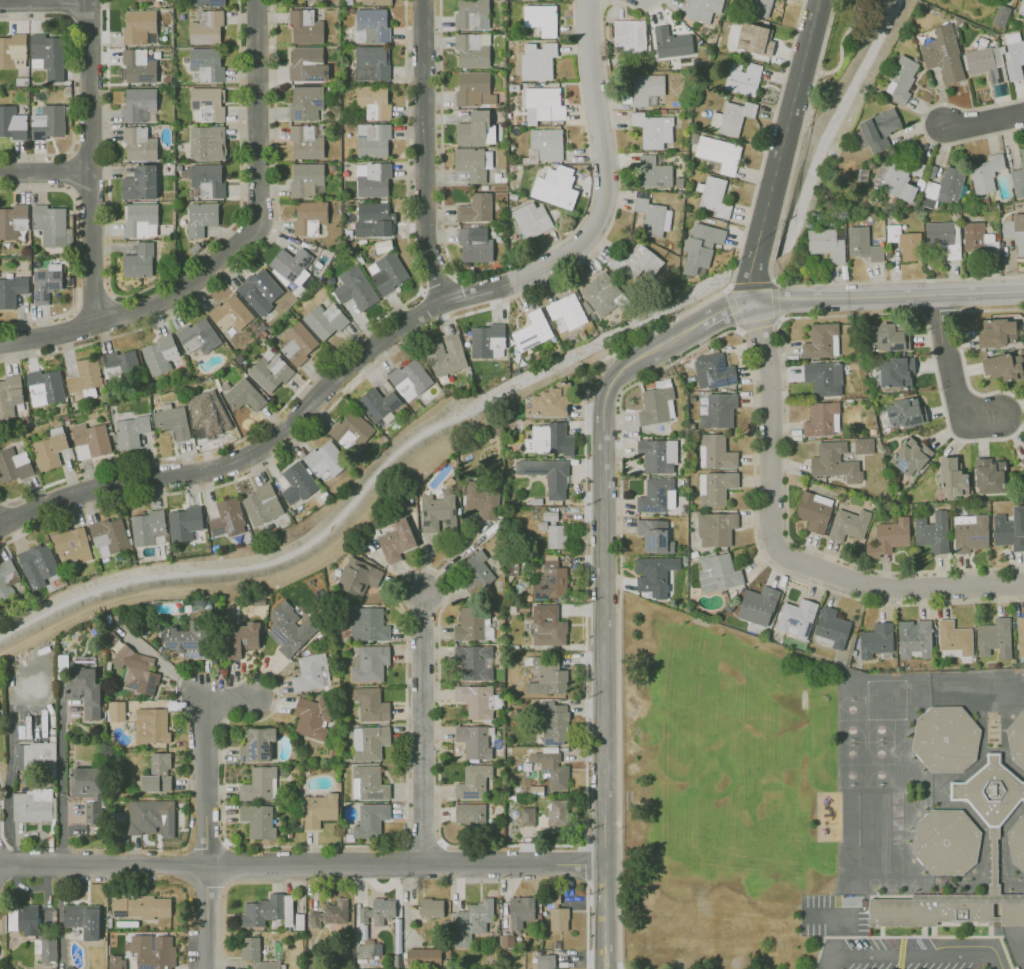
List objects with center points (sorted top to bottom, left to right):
road: (44, 0)
building: (148, 0)
building: (309, 0)
building: (347, 2)
building: (377, 2)
building: (210, 3)
building: (1021, 6)
building: (759, 7)
building: (699, 8)
building: (349, 11)
building: (472, 14)
building: (1000, 15)
building: (541, 20)
building: (372, 26)
building: (306, 27)
building: (140, 28)
building: (207, 28)
building: (349, 35)
building: (629, 35)
road: (825, 36)
building: (754, 38)
building: (670, 42)
road: (842, 43)
park: (842, 44)
building: (473, 50)
building: (13, 51)
building: (943, 54)
building: (1013, 55)
building: (48, 56)
building: (538, 62)
building: (985, 63)
building: (372, 64)
building: (207, 65)
building: (308, 65)
building: (139, 67)
building: (900, 78)
building: (743, 79)
building: (22, 82)
road: (73, 86)
building: (647, 88)
building: (474, 90)
building: (180, 97)
building: (374, 102)
building: (208, 103)
building: (306, 103)
building: (544, 104)
building: (140, 106)
building: (511, 117)
building: (731, 117)
road: (982, 122)
building: (48, 123)
road: (922, 123)
building: (13, 124)
road: (788, 125)
building: (116, 128)
building: (652, 129)
building: (879, 129)
road: (768, 130)
building: (475, 131)
building: (373, 141)
building: (208, 143)
building: (306, 143)
building: (139, 145)
building: (546, 145)
road: (424, 152)
building: (719, 153)
road: (796, 156)
road: (90, 161)
building: (473, 163)
building: (345, 166)
building: (653, 171)
road: (45, 172)
building: (985, 173)
building: (1018, 174)
building: (373, 179)
building: (500, 180)
building: (207, 181)
building: (307, 181)
building: (141, 184)
building: (550, 186)
building: (484, 188)
building: (513, 197)
building: (713, 197)
building: (476, 209)
building: (650, 216)
building: (310, 218)
building: (201, 219)
building: (373, 220)
building: (532, 220)
building: (141, 221)
building: (14, 223)
building: (52, 227)
building: (1015, 231)
building: (942, 236)
building: (363, 242)
building: (862, 243)
building: (475, 244)
building: (825, 244)
building: (383, 246)
building: (910, 246)
building: (701, 247)
building: (194, 248)
road: (234, 248)
building: (517, 248)
road: (773, 250)
road: (75, 253)
building: (645, 259)
building: (69, 260)
road: (248, 260)
building: (359, 260)
building: (139, 261)
road: (752, 261)
building: (292, 265)
road: (497, 271)
road: (732, 271)
building: (387, 274)
road: (887, 281)
building: (47, 283)
road: (439, 283)
building: (287, 284)
road: (751, 284)
road: (749, 286)
road: (148, 287)
building: (355, 289)
building: (12, 291)
building: (259, 291)
building: (600, 293)
road: (887, 296)
road: (430, 305)
road: (95, 306)
road: (723, 310)
road: (940, 311)
road: (118, 313)
building: (566, 313)
road: (832, 315)
building: (231, 317)
building: (325, 321)
road: (755, 325)
road: (431, 327)
road: (397, 328)
building: (997, 329)
building: (532, 331)
building: (470, 332)
building: (258, 333)
building: (264, 334)
building: (199, 337)
building: (888, 337)
building: (489, 341)
building: (821, 341)
building: (298, 344)
road: (342, 349)
building: (160, 355)
building: (453, 356)
building: (1003, 365)
building: (122, 368)
building: (713, 371)
building: (895, 371)
building: (270, 373)
road: (647, 376)
building: (183, 378)
road: (616, 378)
building: (824, 378)
building: (411, 379)
road: (951, 379)
building: (85, 380)
building: (105, 383)
building: (151, 385)
building: (45, 388)
building: (242, 395)
building: (10, 396)
building: (551, 401)
building: (656, 405)
building: (381, 406)
building: (98, 411)
building: (719, 411)
building: (904, 413)
building: (204, 416)
building: (822, 419)
building: (66, 421)
building: (173, 422)
building: (131, 433)
building: (353, 433)
building: (549, 439)
building: (90, 440)
building: (863, 445)
building: (51, 450)
building: (715, 452)
building: (658, 455)
building: (910, 456)
building: (327, 461)
building: (835, 462)
building: (1021, 462)
building: (14, 466)
building: (359, 468)
building: (546, 475)
building: (989, 476)
building: (952, 477)
building: (300, 484)
building: (715, 487)
building: (481, 495)
building: (657, 495)
building: (327, 497)
road: (2, 502)
building: (264, 505)
building: (814, 511)
building: (294, 512)
building: (438, 513)
road: (11, 519)
building: (229, 519)
building: (187, 524)
building: (848, 524)
building: (1010, 528)
building: (150, 529)
building: (716, 529)
building: (554, 530)
building: (256, 531)
building: (932, 532)
building: (970, 532)
building: (653, 535)
building: (110, 536)
building: (890, 536)
building: (396, 541)
building: (75, 544)
road: (779, 549)
road: (454, 559)
building: (40, 562)
building: (475, 572)
building: (718, 572)
building: (654, 574)
building: (358, 576)
building: (9, 579)
building: (551, 580)
building: (37, 592)
building: (758, 605)
building: (796, 618)
building: (368, 624)
building: (472, 624)
building: (548, 626)
building: (832, 627)
building: (290, 628)
building: (1020, 635)
building: (954, 637)
building: (995, 637)
building: (240, 638)
building: (186, 639)
building: (876, 639)
building: (914, 639)
building: (474, 661)
building: (368, 662)
building: (137, 670)
building: (311, 672)
building: (547, 676)
building: (84, 689)
building: (477, 700)
building: (115, 711)
building: (312, 716)
road: (608, 721)
building: (554, 724)
building: (151, 726)
road: (425, 732)
building: (946, 737)
road: (437, 739)
building: (1017, 739)
building: (474, 740)
building: (369, 742)
building: (256, 744)
building: (35, 756)
road: (207, 758)
building: (551, 768)
building: (156, 774)
building: (83, 782)
building: (473, 782)
building: (368, 783)
building: (260, 785)
building: (32, 805)
building: (319, 809)
building: (90, 811)
building: (557, 812)
building: (470, 814)
building: (527, 816)
building: (151, 817)
building: (258, 820)
building: (370, 820)
building: (947, 841)
building: (1017, 842)
building: (994, 860)
road: (584, 862)
road: (406, 865)
road: (103, 866)
building: (552, 901)
building: (140, 907)
building: (431, 907)
building: (377, 909)
building: (267, 910)
building: (520, 911)
building: (330, 913)
road: (205, 918)
building: (83, 919)
building: (558, 919)
building: (23, 920)
building: (472, 921)
road: (586, 926)
building: (507, 940)
parking lot: (888, 940)
building: (367, 947)
building: (46, 949)
building: (153, 951)
road: (912, 952)
building: (255, 954)
building: (423, 956)
building: (545, 961)
building: (116, 962)

